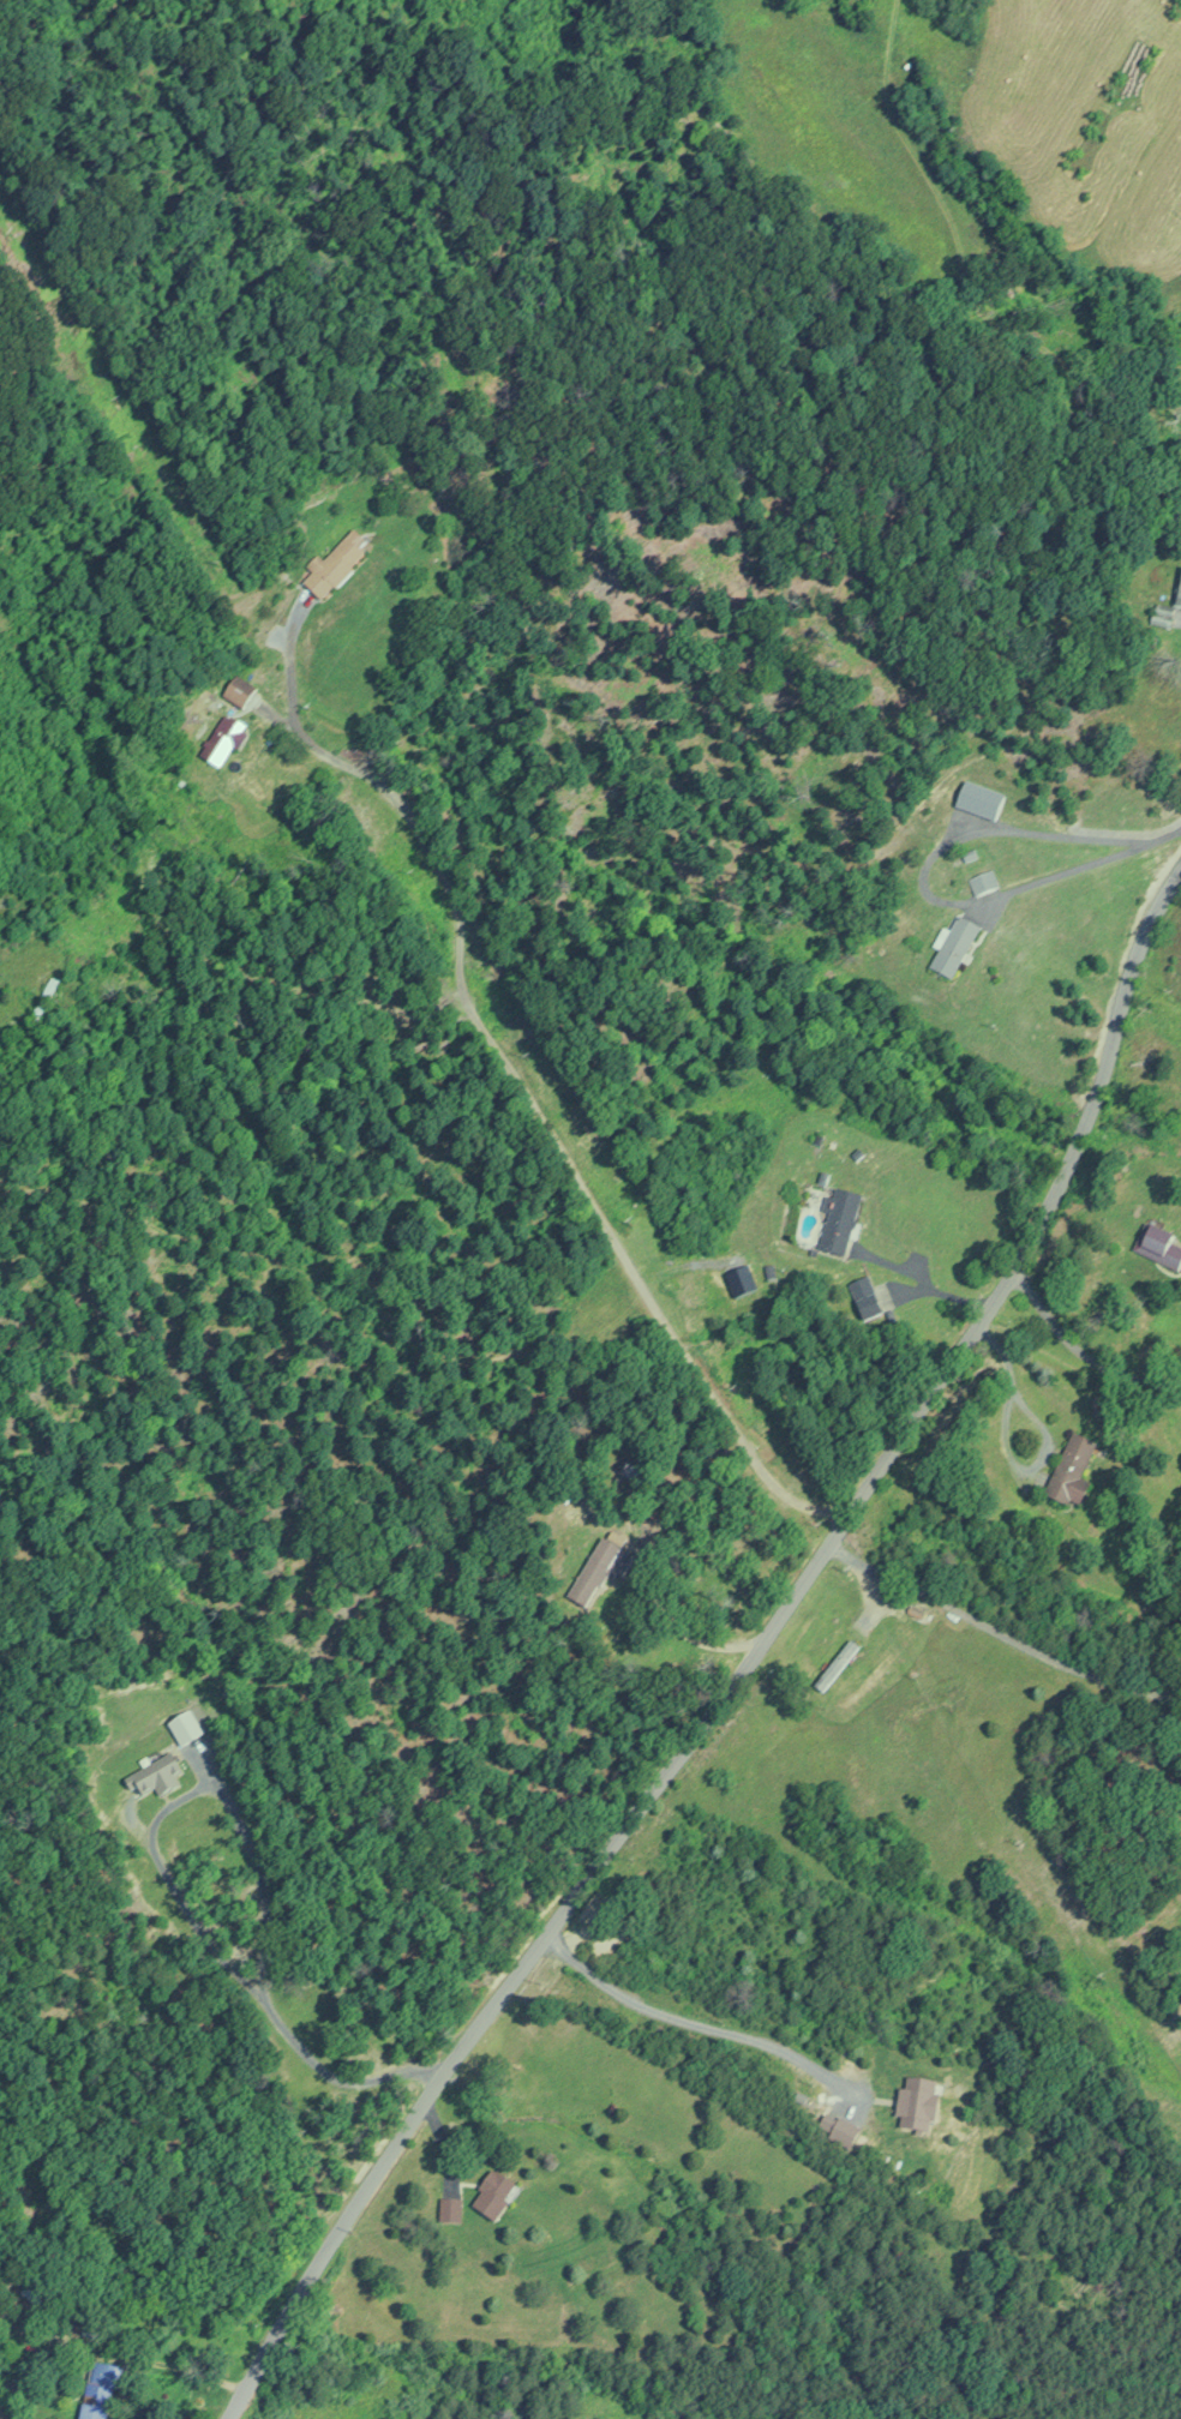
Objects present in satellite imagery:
road: (742, 1670)

